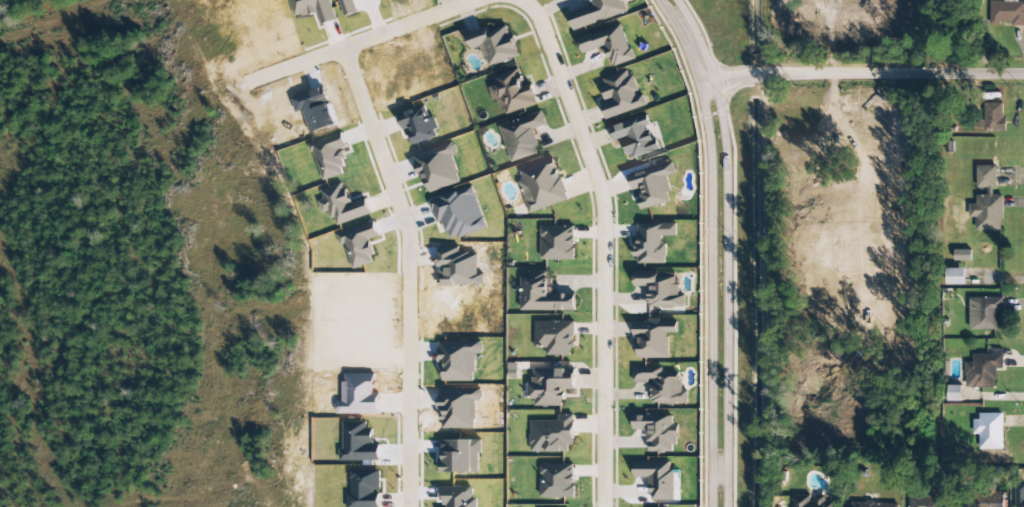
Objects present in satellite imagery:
building: (598, 12)
building: (1006, 12)
road: (359, 38)
building: (494, 44)
building: (608, 44)
road: (865, 74)
building: (512, 92)
building: (621, 94)
building: (992, 117)
building: (522, 136)
building: (635, 136)
building: (329, 155)
building: (437, 168)
building: (542, 185)
building: (652, 185)
building: (986, 201)
building: (652, 242)
building: (557, 243)
road: (606, 244)
road: (719, 248)
road: (409, 270)
building: (954, 276)
building: (659, 289)
building: (984, 313)
building: (554, 337)
building: (653, 337)
building: (512, 371)
building: (982, 371)
building: (661, 385)
building: (550, 386)
building: (952, 393)
building: (989, 430)
building: (657, 432)
building: (552, 435)
building: (656, 479)
building: (556, 480)
building: (1019, 495)
building: (813, 500)
building: (990, 500)
building: (925, 501)
building: (875, 504)

